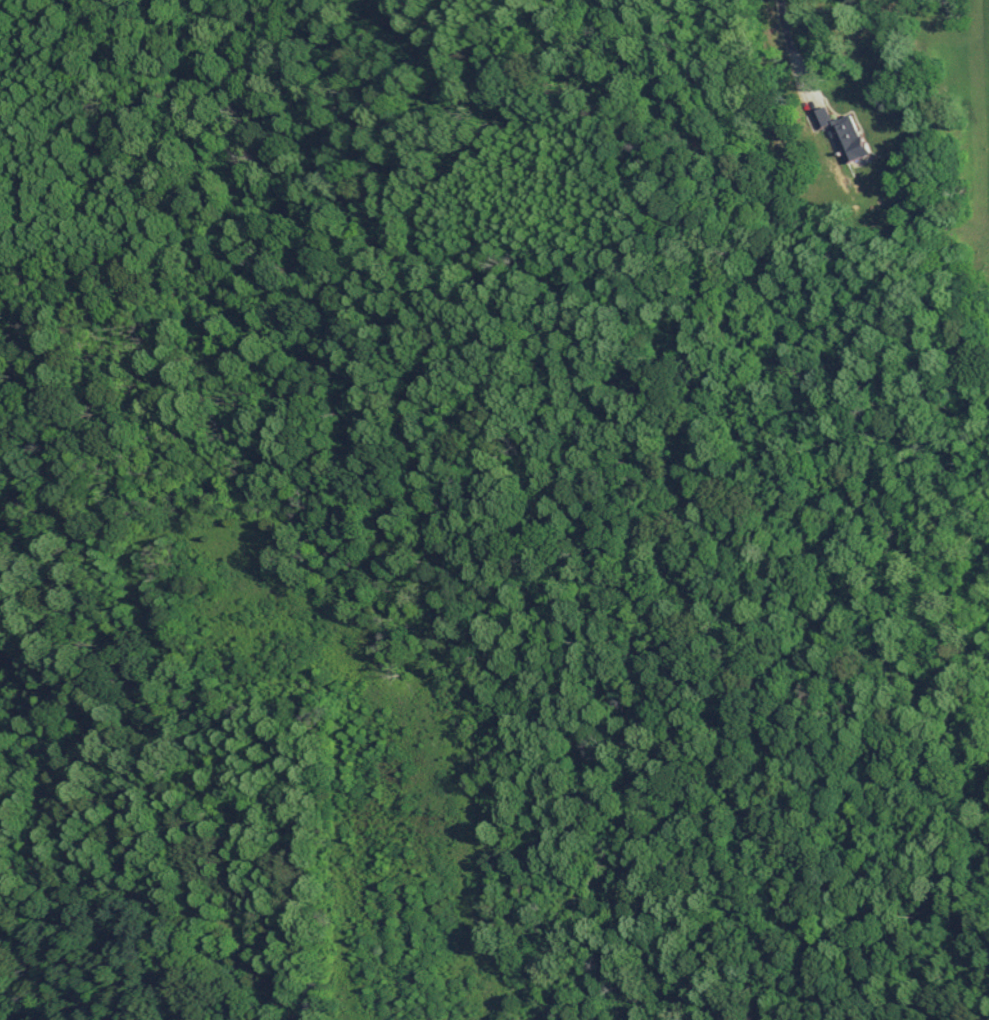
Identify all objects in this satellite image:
building: (838, 133)

